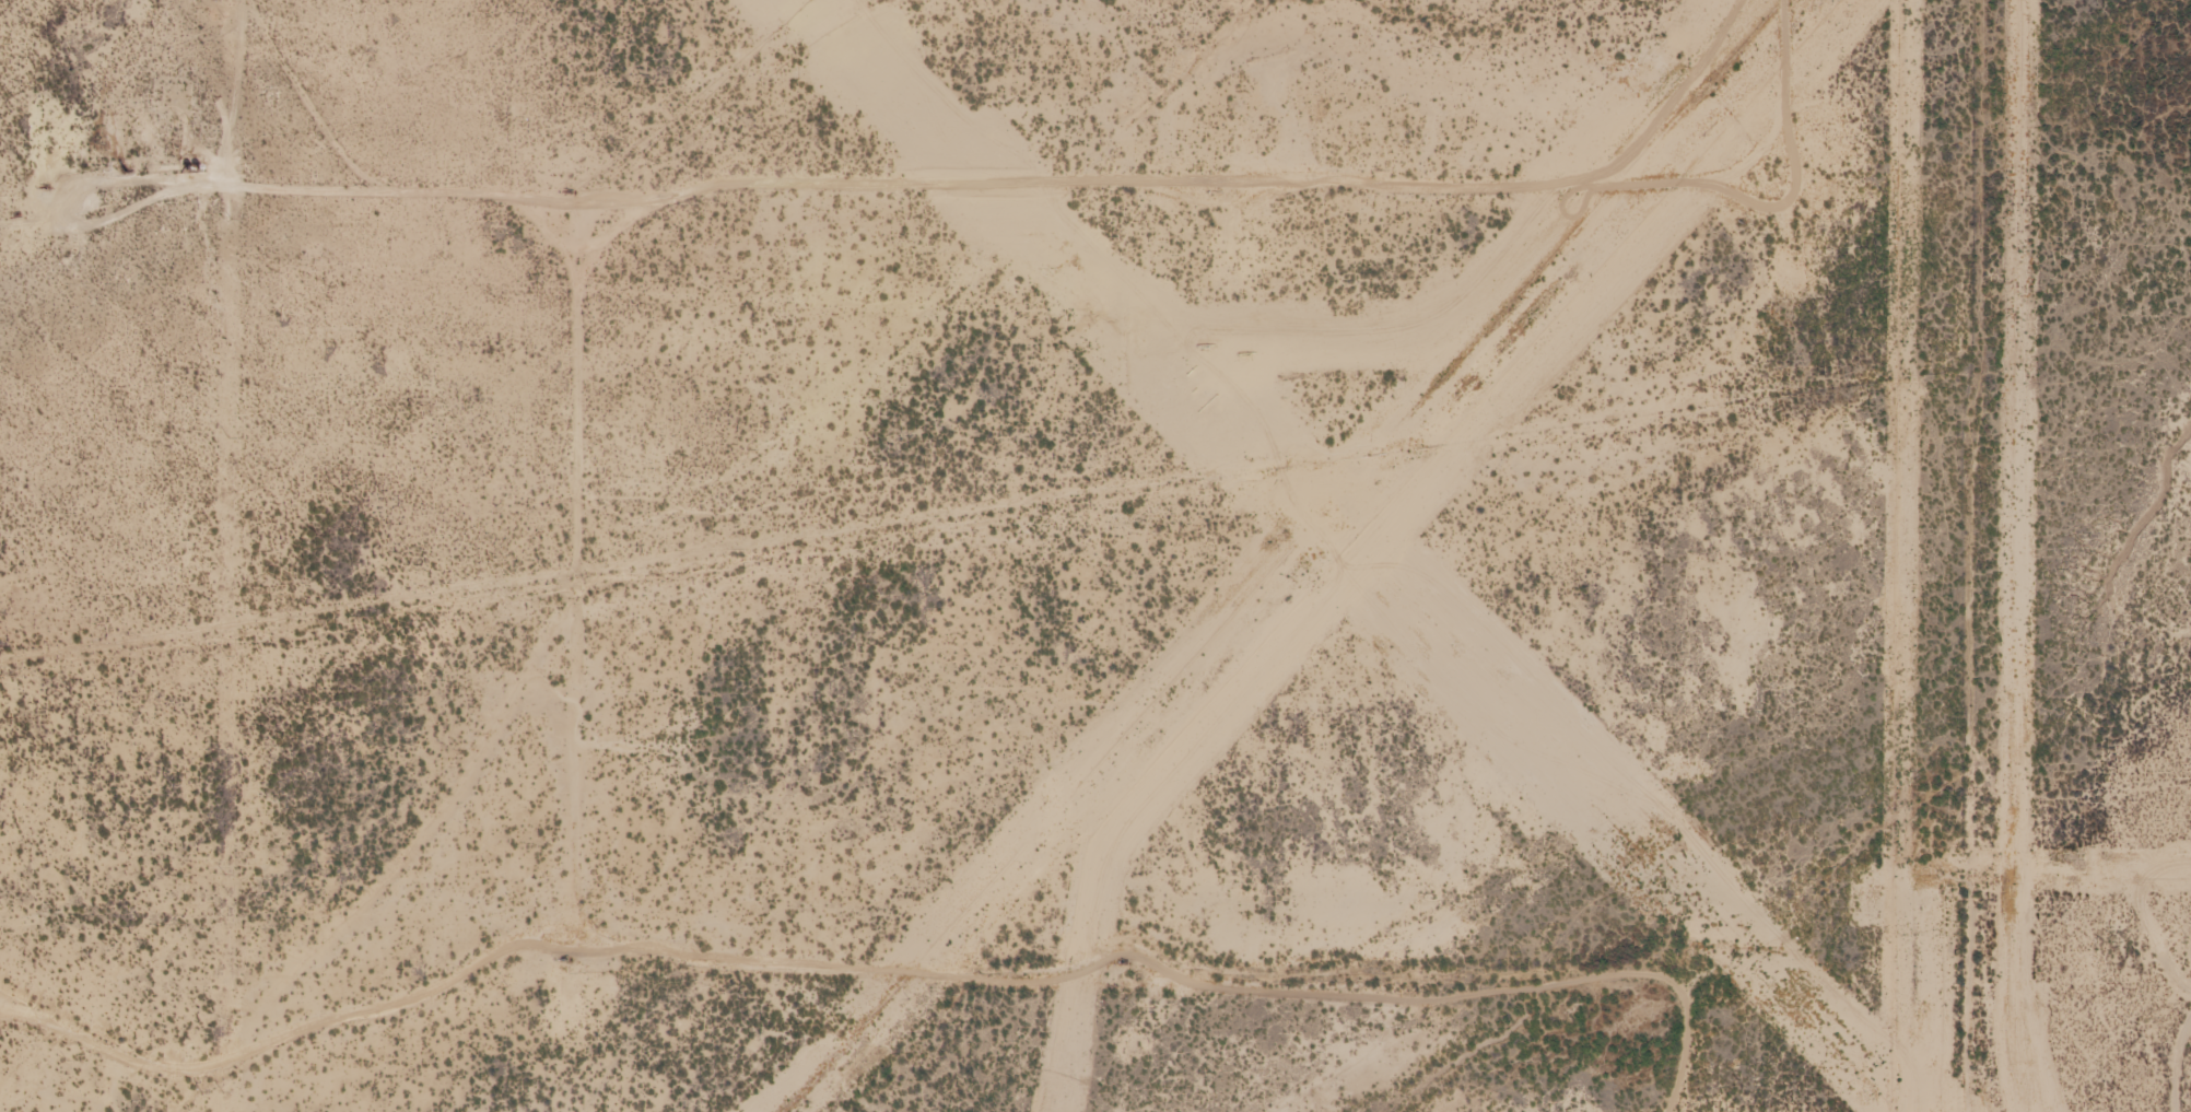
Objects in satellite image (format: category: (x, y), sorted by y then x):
road: (1684, 1069)
road: (2187, 1080)

